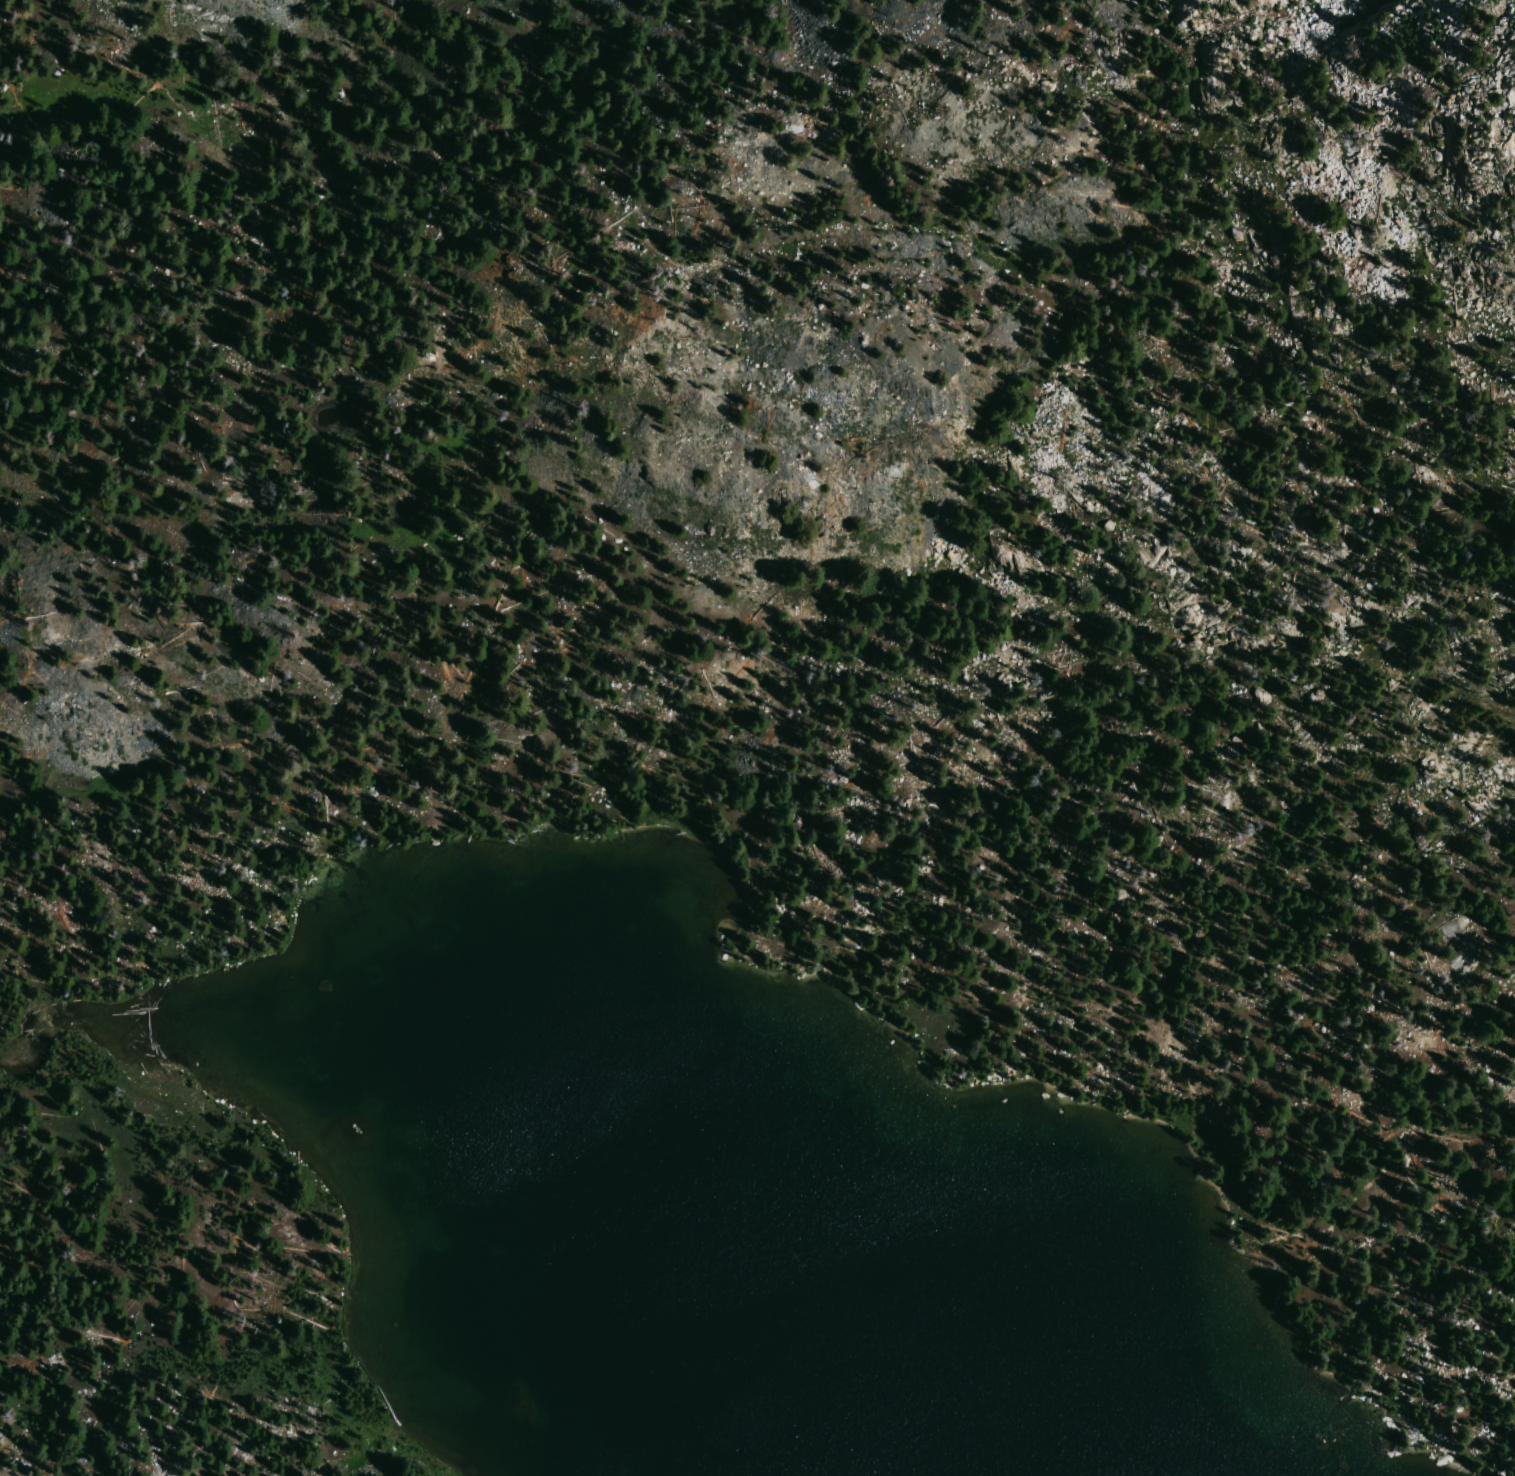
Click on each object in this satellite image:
road: (392, 413)
road: (158, 796)
road: (790, 948)

